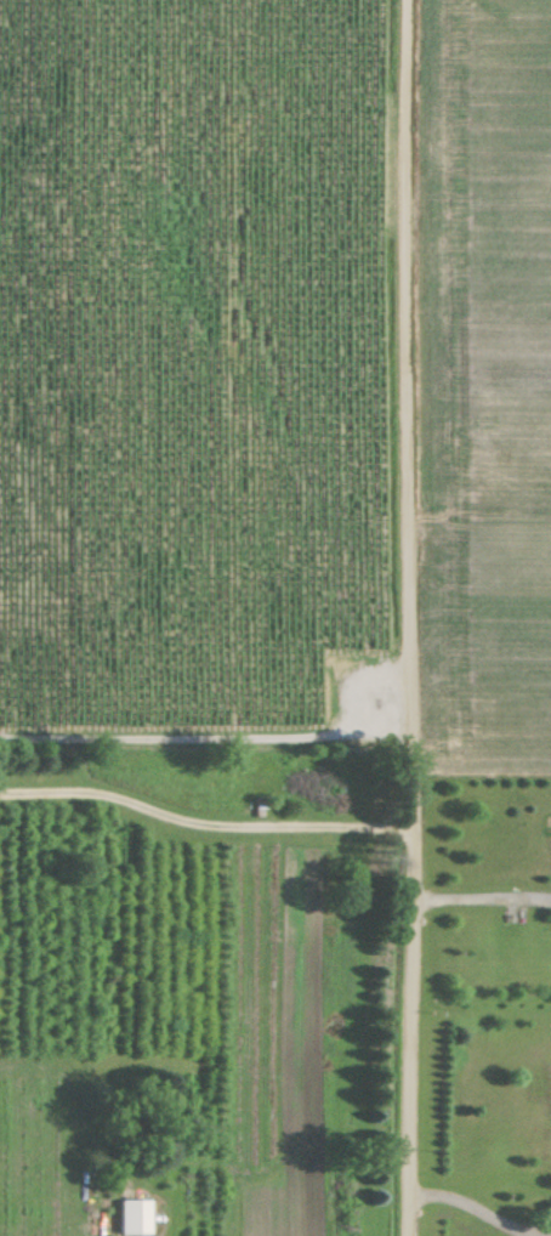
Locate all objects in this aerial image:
road: (415, 617)
road: (205, 822)
road: (482, 897)
road: (484, 1209)
building: (131, 1215)

